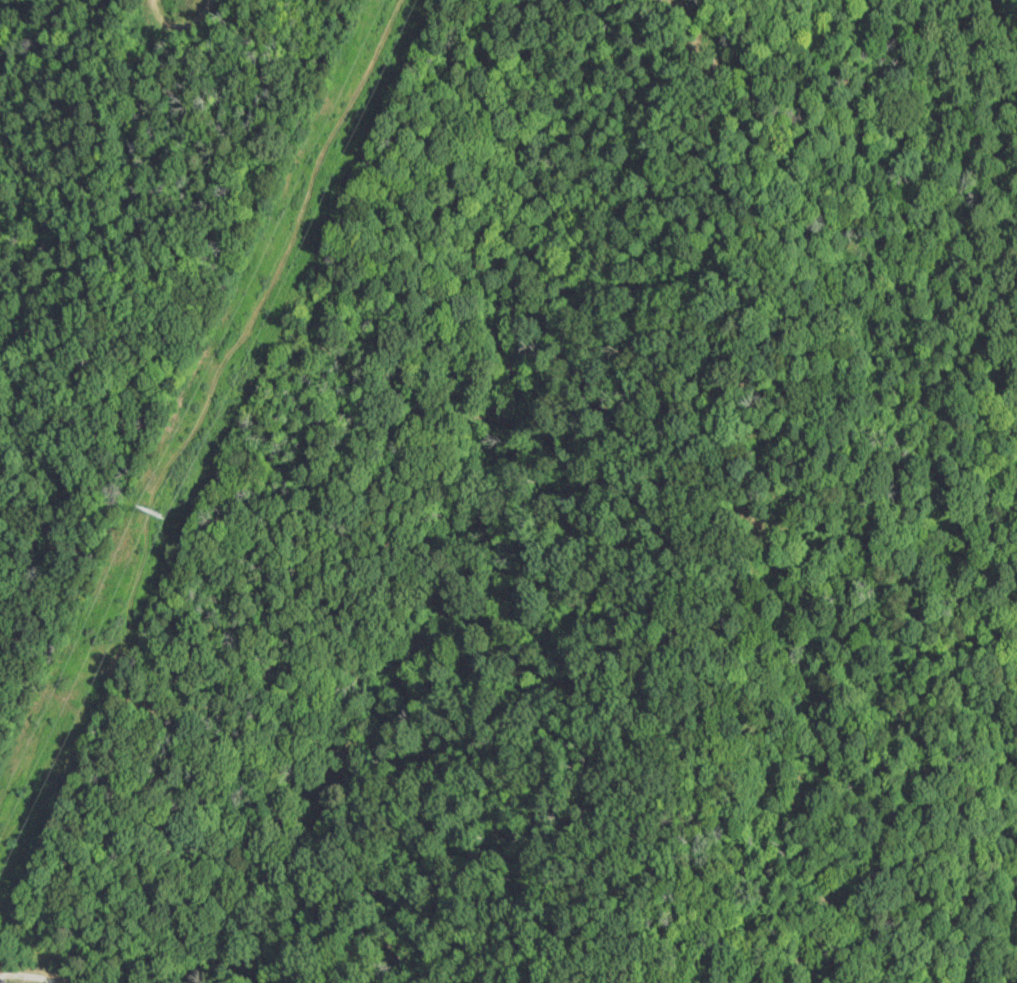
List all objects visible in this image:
power tower: (141, 517)
building: (2, 981)

